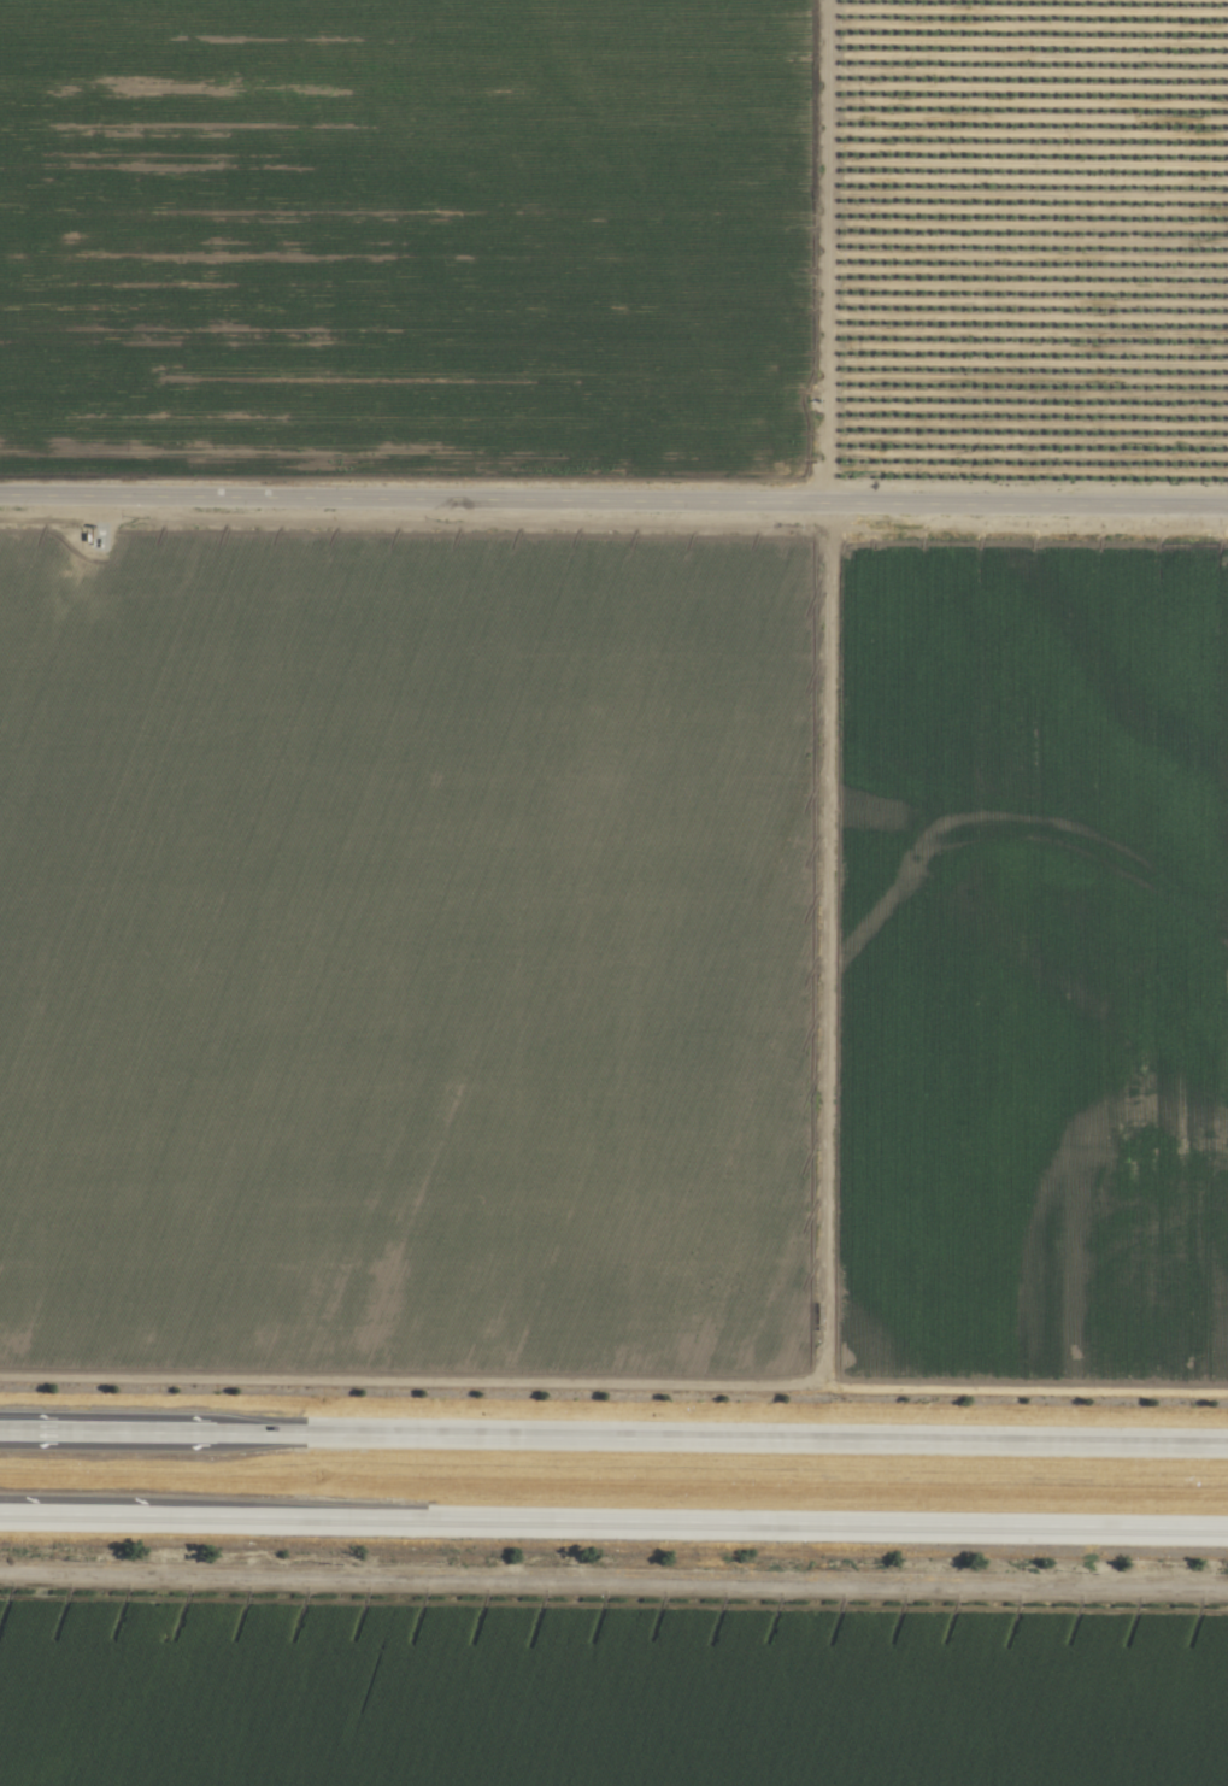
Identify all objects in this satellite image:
road: (613, 504)
road: (613, 1439)
road: (613, 1520)
road: (613, 1584)

